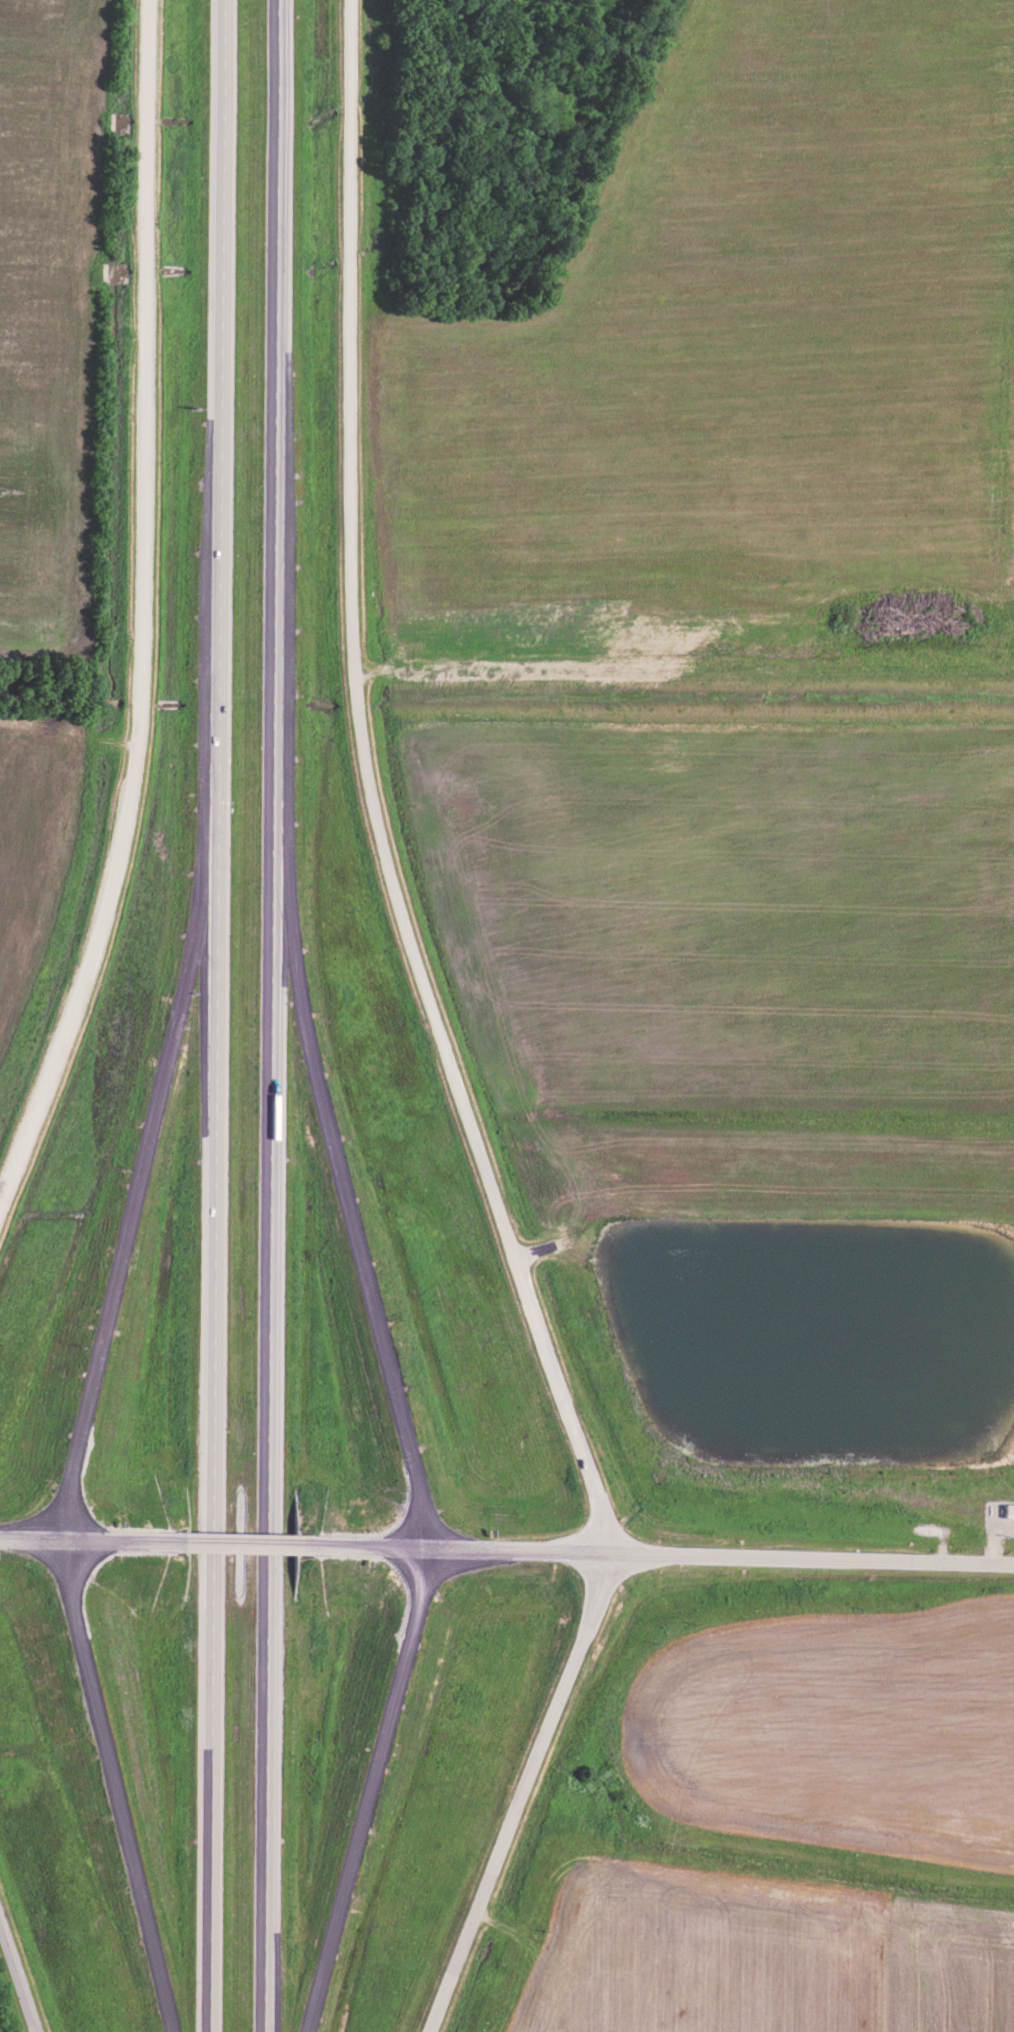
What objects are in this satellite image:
road: (352, 335)
road: (146, 616)
road: (214, 1015)
road: (270, 1015)
road: (467, 1115)
road: (151, 1125)
road: (332, 1146)
building: (1009, 1508)
road: (93, 1539)
road: (243, 1542)
road: (657, 1556)
road: (112, 1786)
road: (367, 1790)
road: (524, 1795)
road: (19, 1978)

